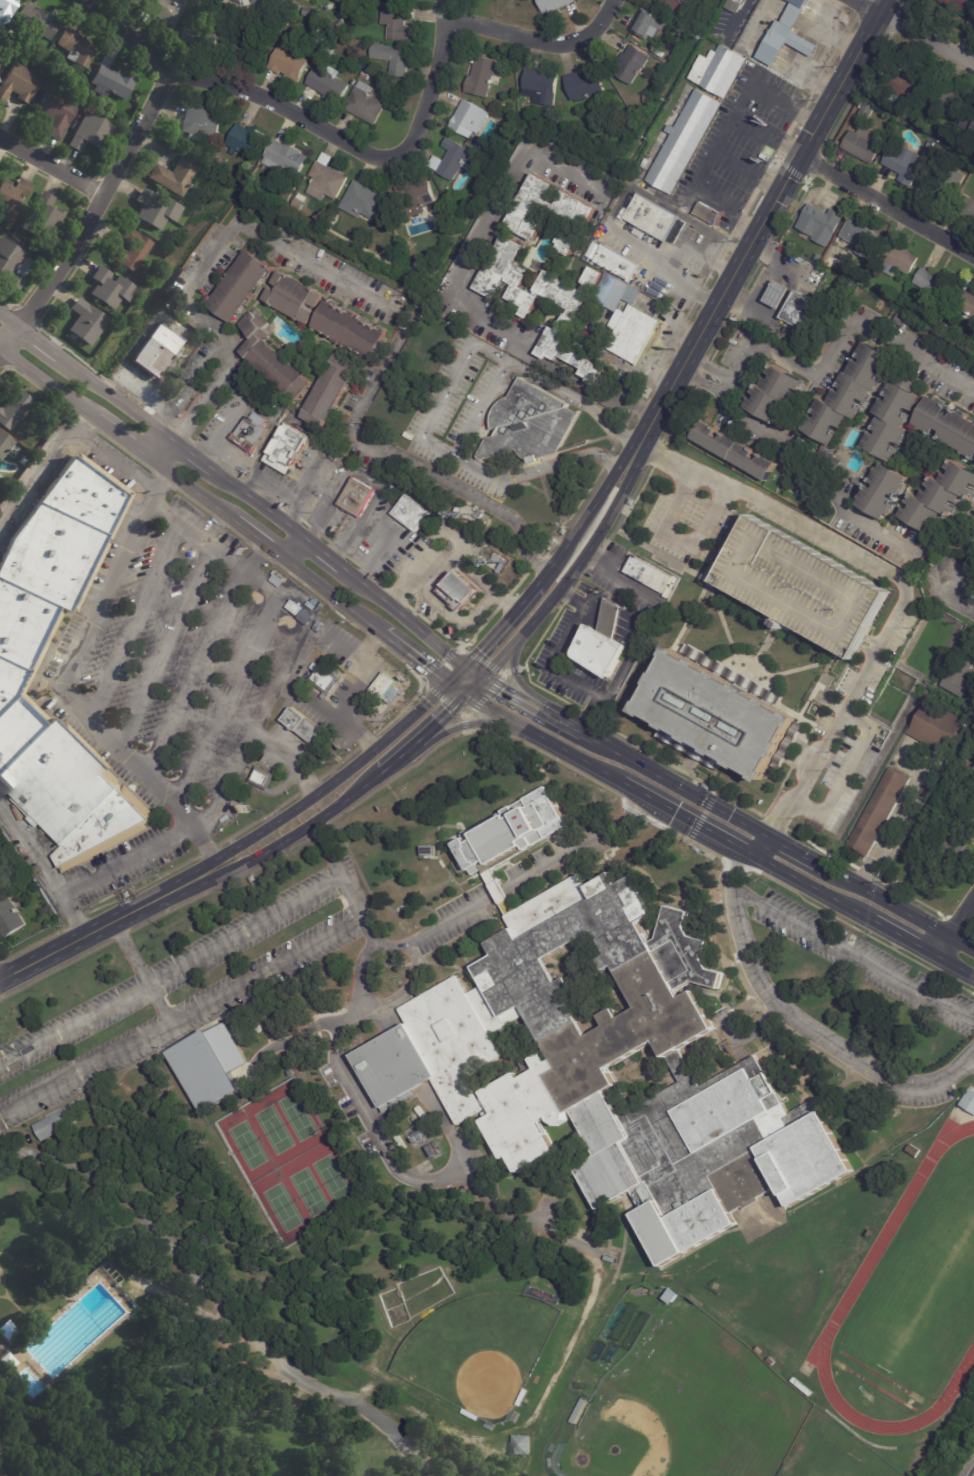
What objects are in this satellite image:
building: (267, 2)
building: (670, 3)
building: (730, 4)
building: (555, 5)
road: (868, 5)
building: (960, 5)
building: (330, 8)
building: (6, 9)
building: (167, 10)
building: (311, 12)
road: (742, 13)
building: (274, 20)
building: (972, 21)
building: (36, 22)
building: (398, 22)
building: (645, 23)
building: (341, 24)
building: (213, 28)
building: (313, 29)
building: (786, 35)
road: (926, 38)
road: (534, 40)
building: (319, 41)
building: (243, 42)
building: (76, 47)
building: (42, 51)
building: (327, 52)
building: (658, 52)
building: (393, 58)
building: (288, 61)
building: (0, 62)
building: (631, 64)
building: (714, 69)
building: (353, 74)
building: (363, 74)
building: (484, 77)
building: (111, 82)
building: (580, 82)
building: (19, 83)
building: (906, 83)
building: (328, 84)
building: (536, 85)
building: (892, 97)
building: (646, 99)
building: (952, 101)
building: (365, 104)
building: (867, 111)
building: (56, 113)
building: (906, 114)
building: (512, 115)
road: (303, 119)
building: (465, 119)
building: (969, 122)
building: (200, 123)
building: (91, 133)
road: (764, 134)
building: (679, 139)
road: (716, 139)
building: (246, 141)
building: (864, 144)
building: (931, 145)
road: (113, 150)
building: (285, 157)
building: (449, 157)
building: (906, 164)
road: (51, 166)
road: (743, 171)
building: (175, 175)
building: (326, 179)
building: (938, 181)
road: (90, 191)
building: (416, 197)
building: (11, 198)
building: (364, 200)
building: (299, 202)
road: (99, 203)
building: (462, 207)
road: (885, 207)
building: (966, 207)
building: (530, 208)
building: (156, 209)
building: (575, 209)
building: (708, 214)
building: (43, 216)
building: (649, 216)
road: (74, 221)
building: (820, 221)
building: (724, 226)
building: (443, 230)
building: (860, 237)
building: (788, 238)
road: (750, 241)
building: (567, 246)
road: (646, 249)
building: (131, 250)
building: (819, 258)
building: (897, 260)
building: (10, 264)
building: (617, 264)
road: (766, 282)
building: (934, 282)
building: (241, 287)
building: (110, 288)
building: (872, 288)
road: (454, 289)
building: (775, 293)
gas station: (775, 293)
building: (295, 298)
building: (966, 303)
building: (906, 305)
building: (791, 306)
road: (45, 310)
building: (576, 312)
building: (627, 320)
building: (903, 320)
road: (8, 322)
building: (86, 322)
road: (36, 328)
building: (350, 330)
road: (839, 331)
road: (406, 333)
road: (9, 338)
road: (37, 342)
road: (1, 347)
road: (1, 349)
building: (153, 349)
building: (272, 358)
road: (709, 367)
road: (46, 381)
road: (38, 387)
road: (190, 387)
building: (330, 389)
building: (776, 395)
building: (848, 395)
road: (110, 396)
road: (576, 397)
road: (210, 399)
road: (478, 408)
building: (14, 410)
building: (526, 421)
building: (892, 421)
road: (85, 422)
building: (948, 426)
road: (275, 429)
road: (223, 430)
building: (250, 433)
road: (119, 436)
building: (5, 445)
road: (156, 446)
building: (285, 449)
road: (124, 450)
building: (736, 452)
road: (187, 453)
road: (453, 456)
road: (113, 460)
road: (40, 461)
building: (23, 462)
road: (366, 478)
building: (1, 479)
road: (163, 480)
building: (857, 482)
road: (273, 486)
road: (300, 490)
road: (192, 491)
building: (882, 491)
building: (356, 497)
road: (827, 497)
building: (939, 497)
road: (258, 504)
road: (324, 507)
building: (409, 513)
road: (212, 516)
road: (356, 529)
road: (575, 530)
road: (680, 537)
road: (210, 542)
road: (294, 549)
road: (260, 551)
road: (323, 553)
road: (447, 556)
building: (498, 559)
building: (502, 569)
building: (644, 573)
parking lot: (798, 575)
road: (310, 577)
road: (902, 582)
building: (804, 587)
parking lot: (804, 587)
building: (457, 593)
road: (553, 594)
road: (605, 595)
road: (317, 596)
road: (957, 599)
building: (295, 608)
road: (403, 616)
road: (502, 627)
building: (787, 630)
road: (281, 638)
road: (373, 639)
building: (598, 641)
road: (336, 643)
building: (322, 646)
building: (16, 653)
road: (414, 656)
building: (341, 659)
traffic signals: (464, 668)
road: (411, 670)
building: (960, 671)
road: (195, 673)
road: (473, 673)
road: (515, 677)
building: (330, 679)
traffic signals: (483, 679)
traffic signals: (446, 684)
road: (357, 686)
road: (66, 688)
building: (385, 688)
road: (505, 691)
traffic signals: (464, 696)
road: (404, 710)
road: (327, 711)
building: (717, 715)
road: (553, 718)
road: (463, 724)
road: (388, 725)
building: (302, 726)
building: (937, 728)
road: (424, 734)
road: (246, 740)
road: (367, 740)
road: (338, 763)
road: (344, 772)
road: (852, 772)
building: (263, 779)
road: (308, 786)
building: (879, 813)
road: (703, 814)
building: (973, 818)
road: (258, 819)
road: (305, 828)
road: (709, 830)
building: (510, 833)
road: (775, 843)
road: (758, 845)
building: (959, 846)
road: (583, 848)
road: (208, 850)
building: (425, 851)
road: (128, 860)
road: (46, 869)
road: (339, 870)
road: (138, 879)
building: (1, 892)
building: (33, 893)
road: (500, 893)
road: (124, 895)
road: (492, 898)
building: (37, 913)
parking lot: (458, 919)
building: (9, 920)
road: (74, 920)
road: (108, 923)
road: (953, 928)
road: (423, 937)
road: (32, 944)
road: (853, 956)
parking lot: (863, 962)
road: (139, 971)
road: (173, 972)
parking lot: (182, 991)
road: (401, 991)
road: (179, 1014)
building: (276, 1020)
road: (802, 1023)
building: (310, 1026)
road: (970, 1063)
building: (209, 1065)
building: (410, 1072)
building: (139, 1078)
parking lot: (901, 1097)
building: (968, 1101)
park: (297, 1116)
building: (52, 1123)
building: (908, 1126)
park: (273, 1129)
road: (374, 1132)
building: (418, 1138)
park: (247, 1145)
building: (913, 1151)
park: (332, 1179)
park: (308, 1191)
park: (282, 1207)
track: (878, 1245)
building: (565, 1257)
building: (605, 1257)
parking lot: (1, 1272)
road: (3, 1286)
park: (923, 1286)
building: (653, 1292)
building: (545, 1295)
building: (670, 1295)
road: (218, 1300)
building: (587, 1300)
road: (14, 1302)
building: (7, 1329)
park: (477, 1351)
park: (164, 1353)
building: (6, 1362)
building: (772, 1362)
building: (523, 1397)
park: (686, 1406)
building: (578, 1411)
road: (212, 1412)
building: (471, 1414)
building: (522, 1445)
railway: (971, 1471)
road: (0, 1475)

